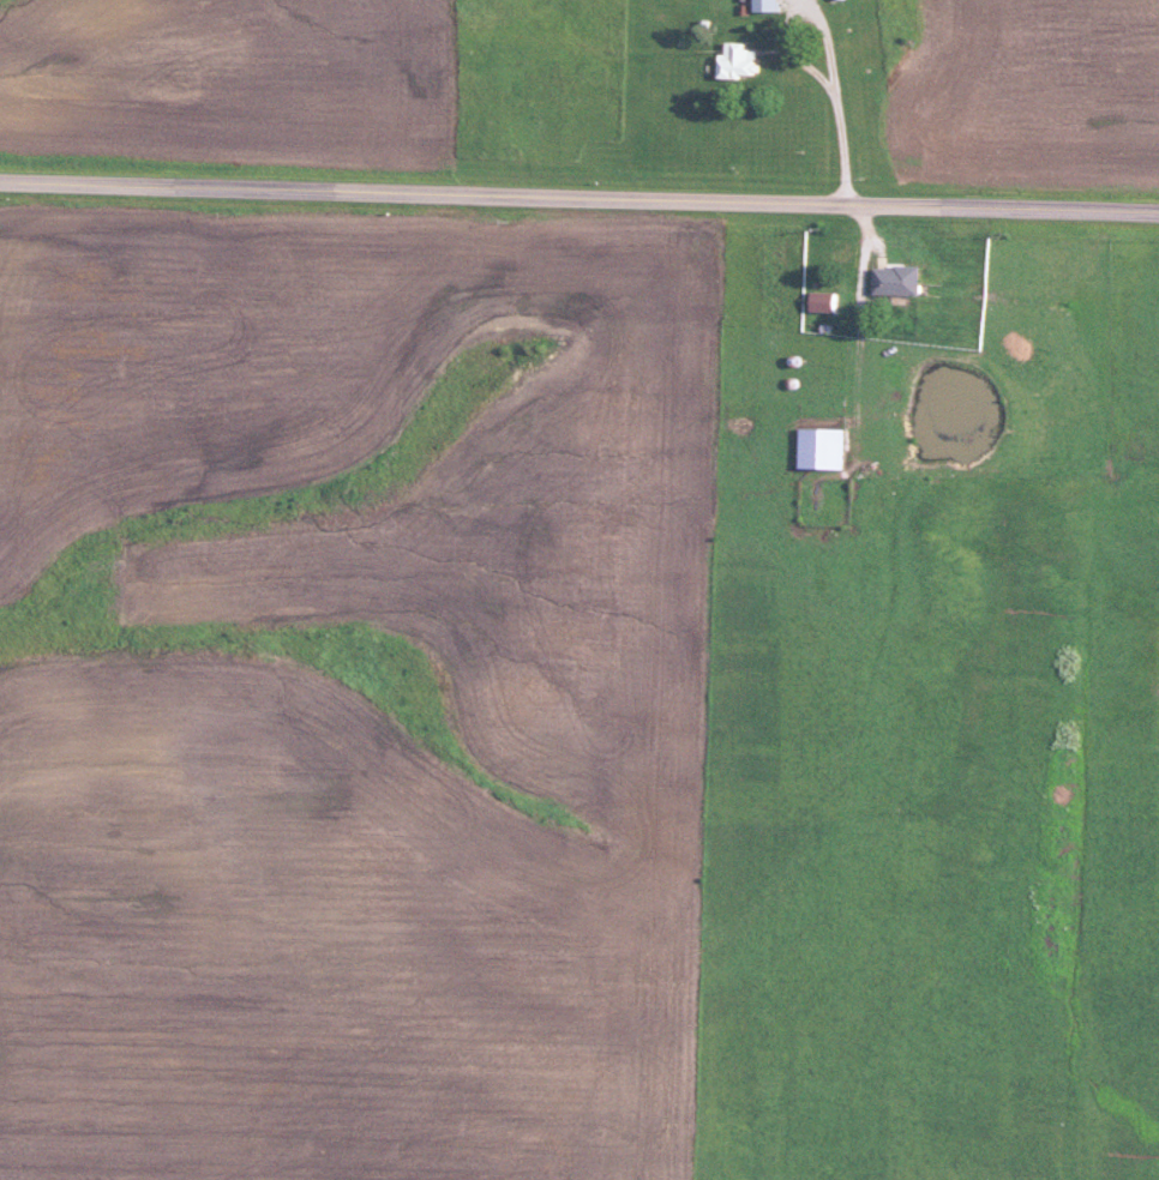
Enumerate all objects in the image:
building: (762, 6)
road: (789, 44)
building: (735, 61)
road: (842, 144)
road: (578, 198)
building: (891, 281)
building: (817, 447)

